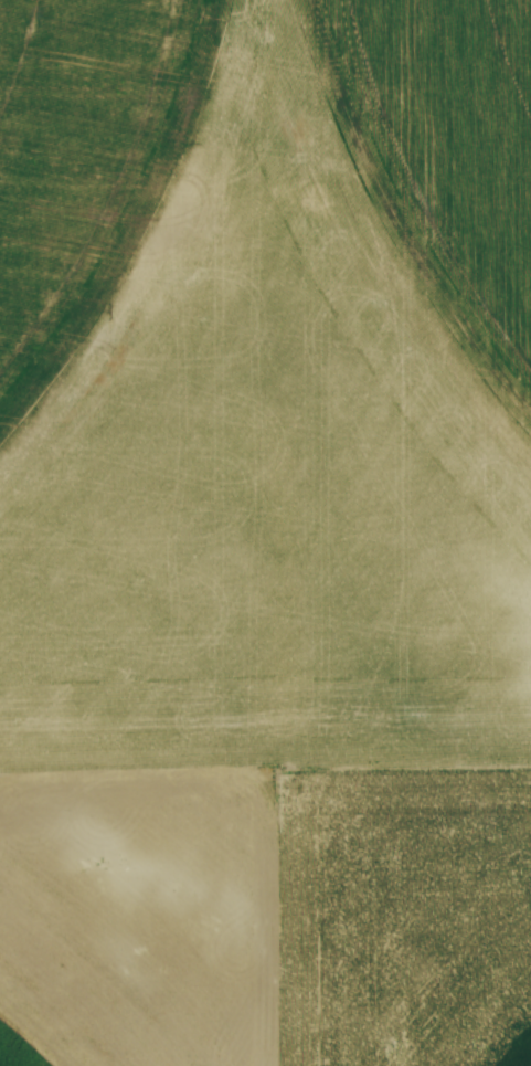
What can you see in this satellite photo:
crop: (265, 532)

